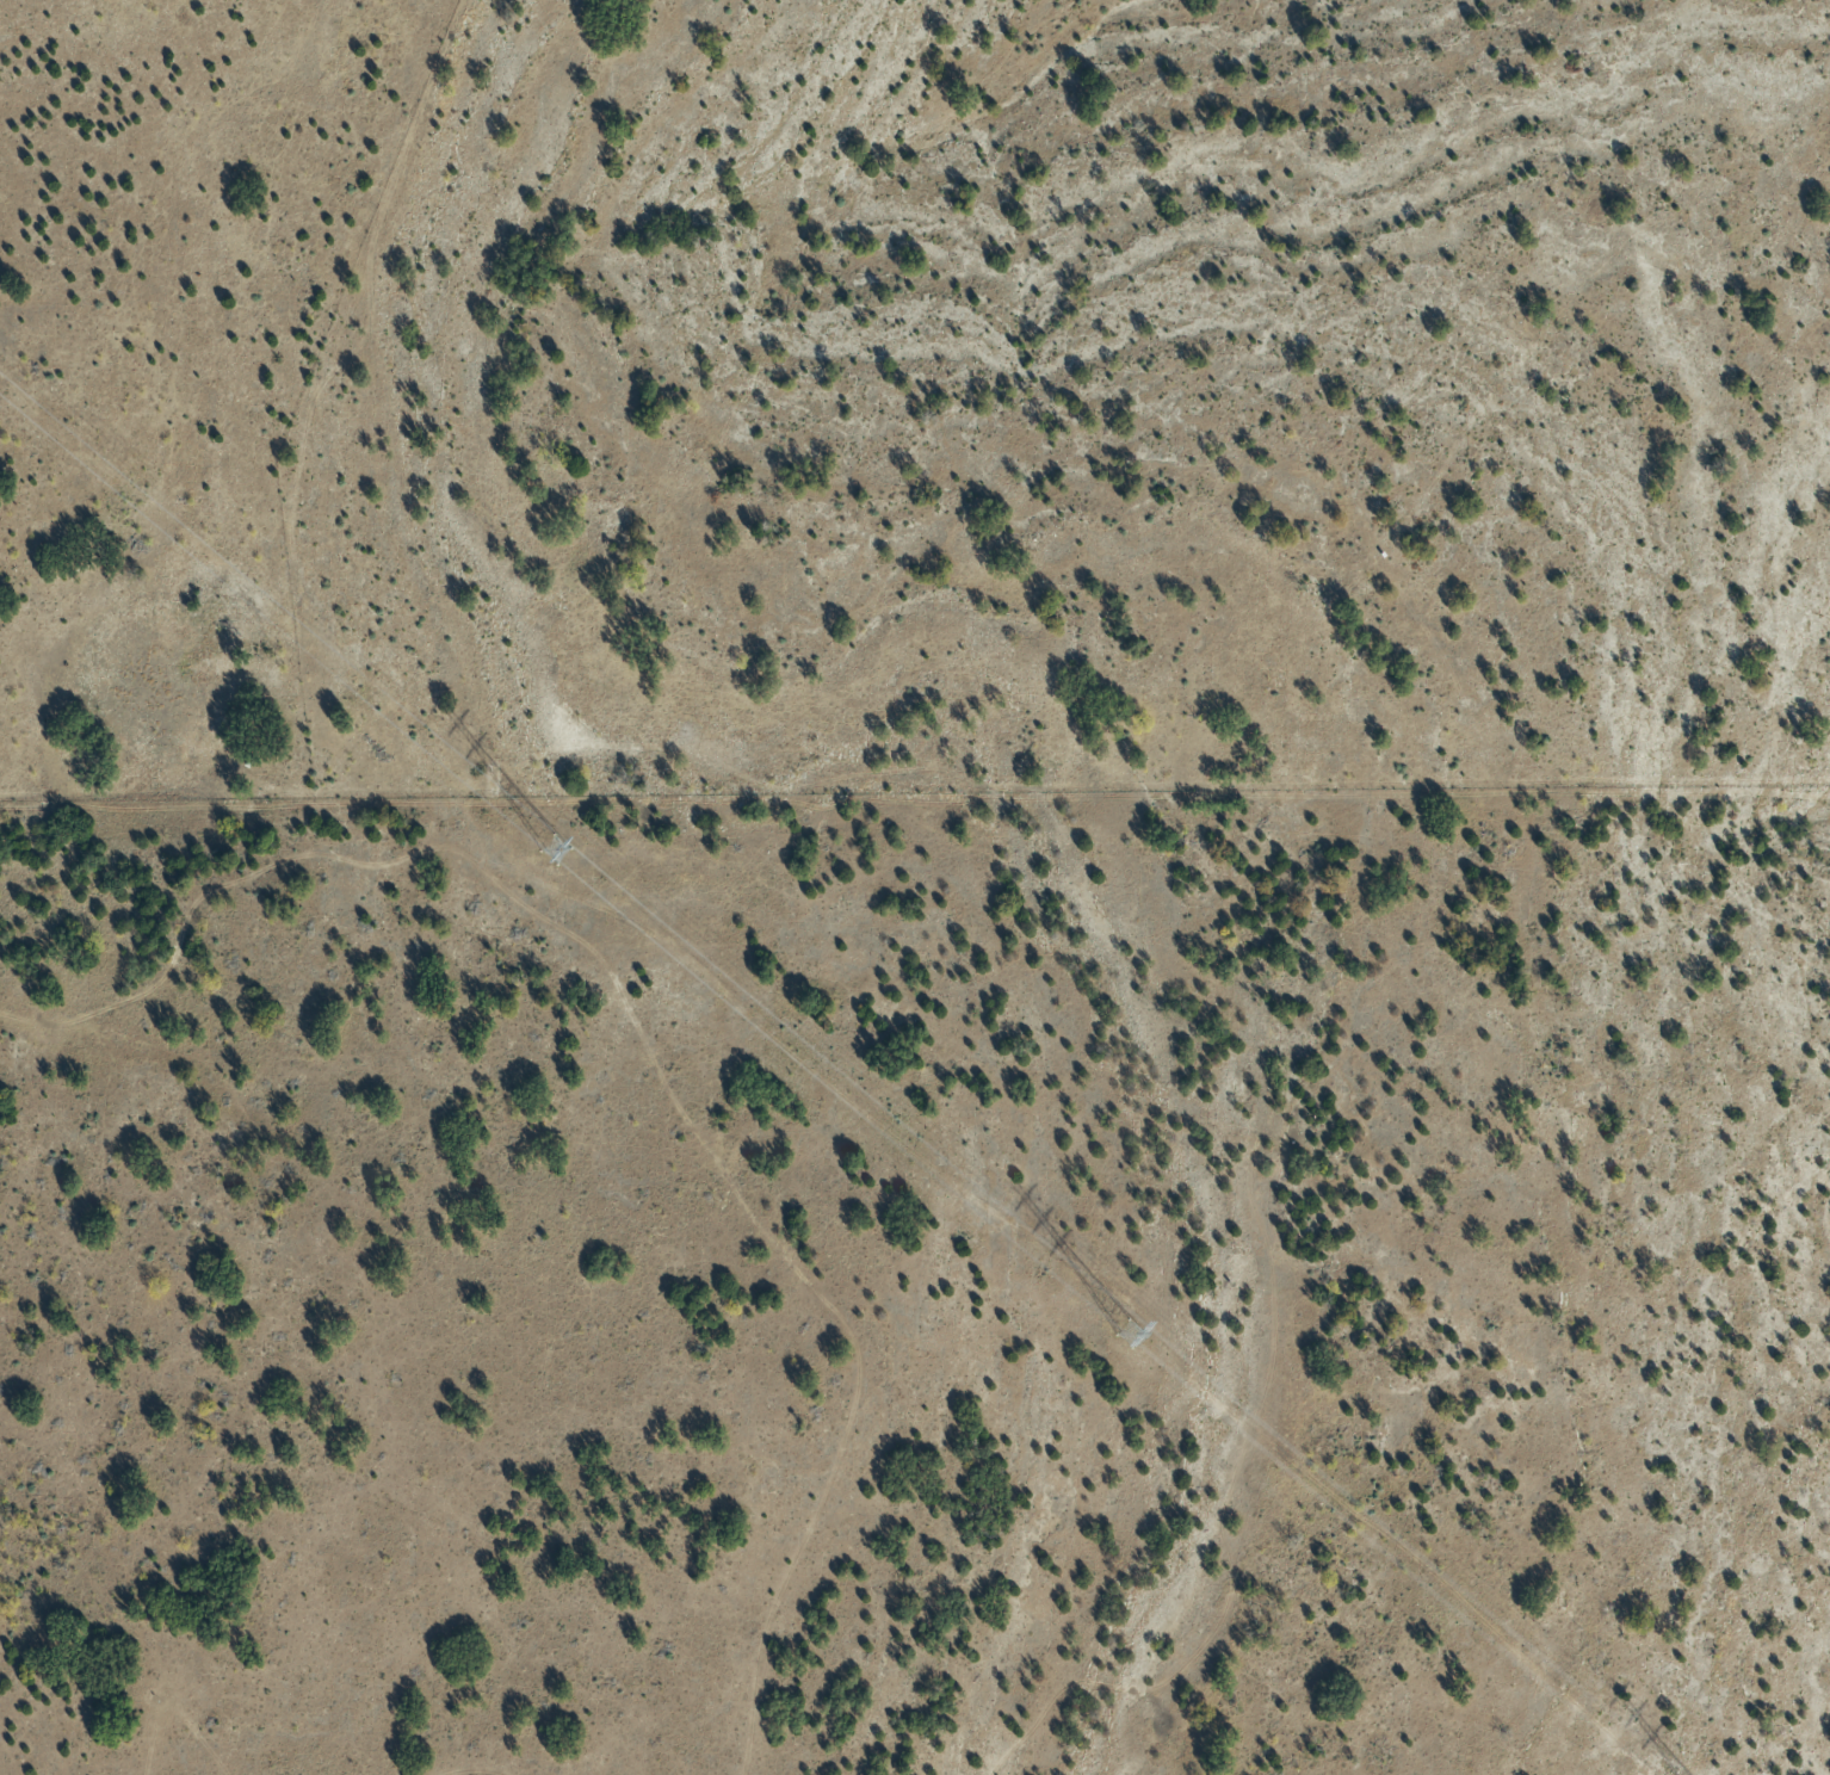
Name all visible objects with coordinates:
power tower: (552, 851)
power tower: (1126, 1332)

